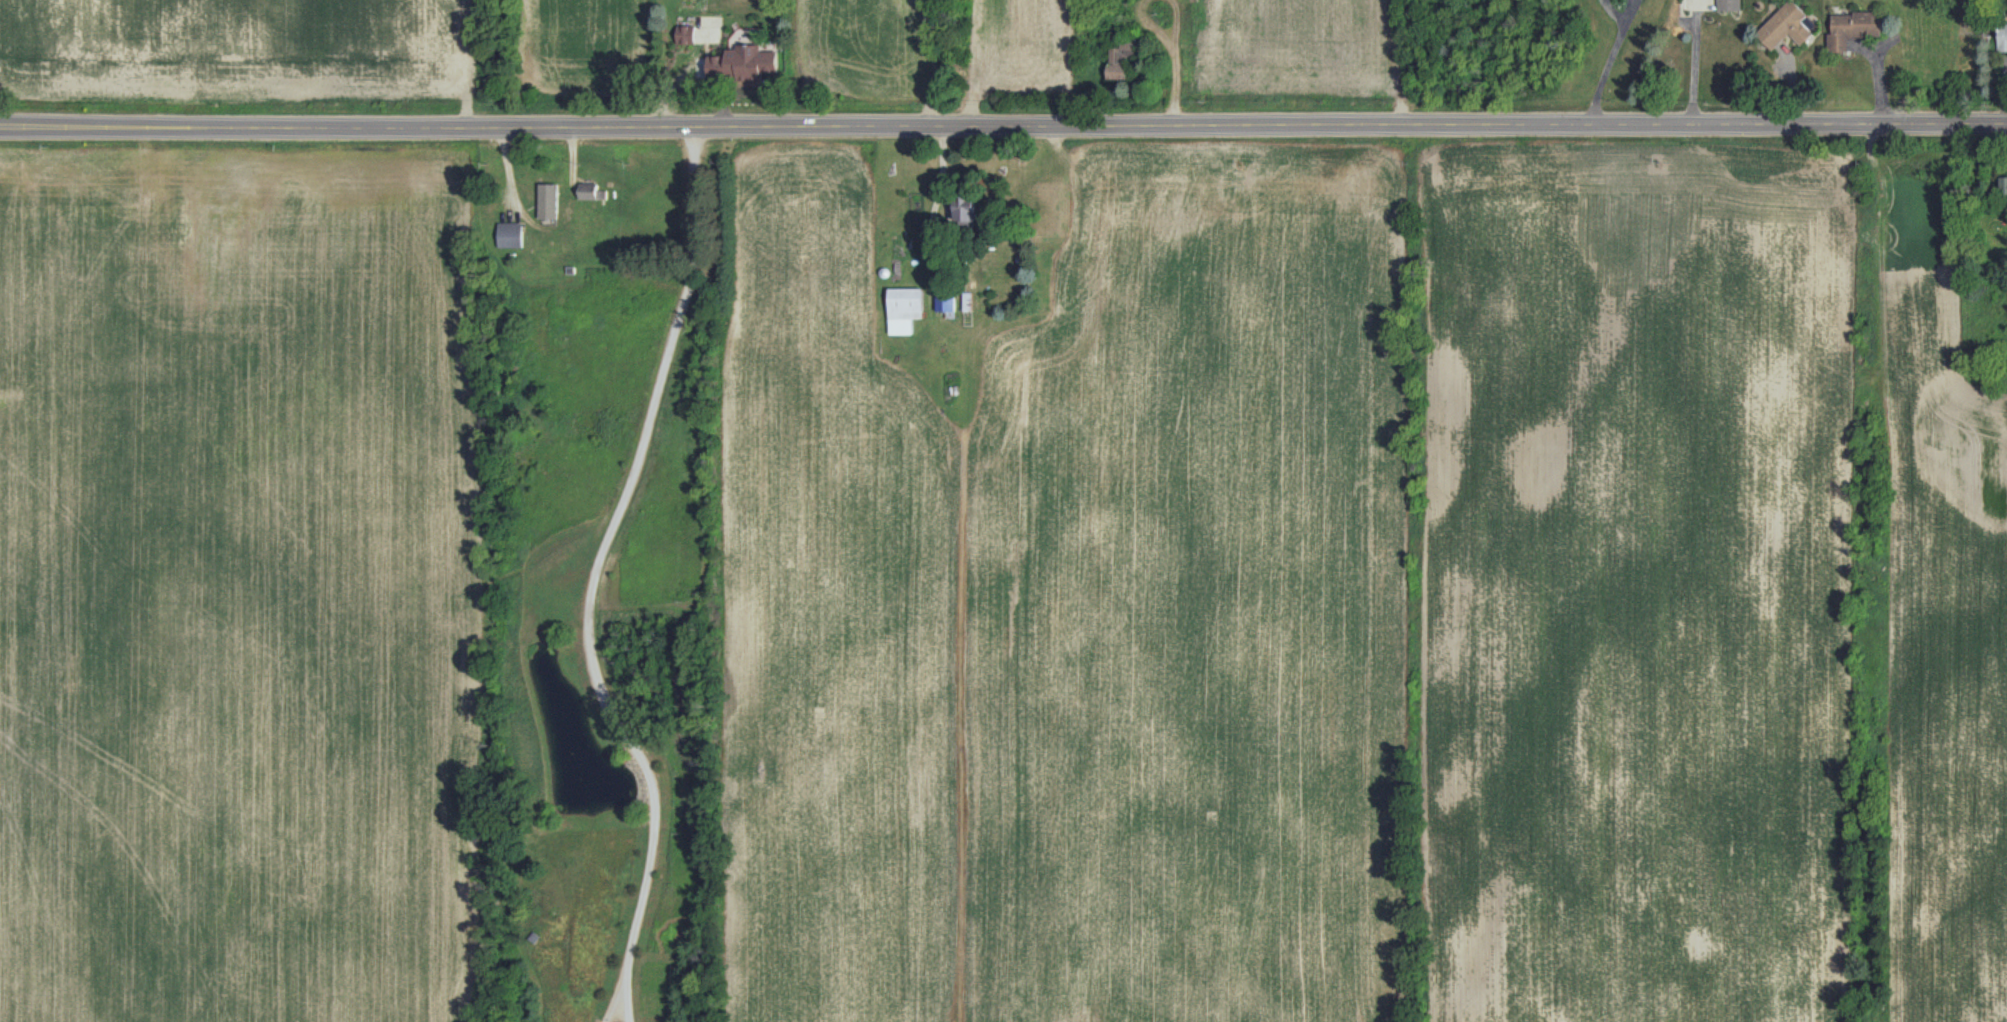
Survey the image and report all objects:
building: (1729, 5)
building: (1787, 25)
building: (1852, 28)
building: (685, 34)
crop: (584, 35)
building: (2002, 36)
crop: (859, 41)
crop: (1015, 42)
building: (1121, 58)
road: (1611, 61)
building: (743, 64)
road: (1694, 65)
road: (1003, 124)
building: (2004, 186)
building: (591, 191)
building: (548, 200)
building: (964, 209)
building: (510, 234)
road: (930, 237)
building: (946, 303)
building: (904, 308)
road: (596, 561)
crop: (1634, 583)
crop: (233, 587)
crop: (1189, 604)
crop: (826, 613)
crop: (1940, 620)
road: (612, 1009)
road: (621, 1009)

